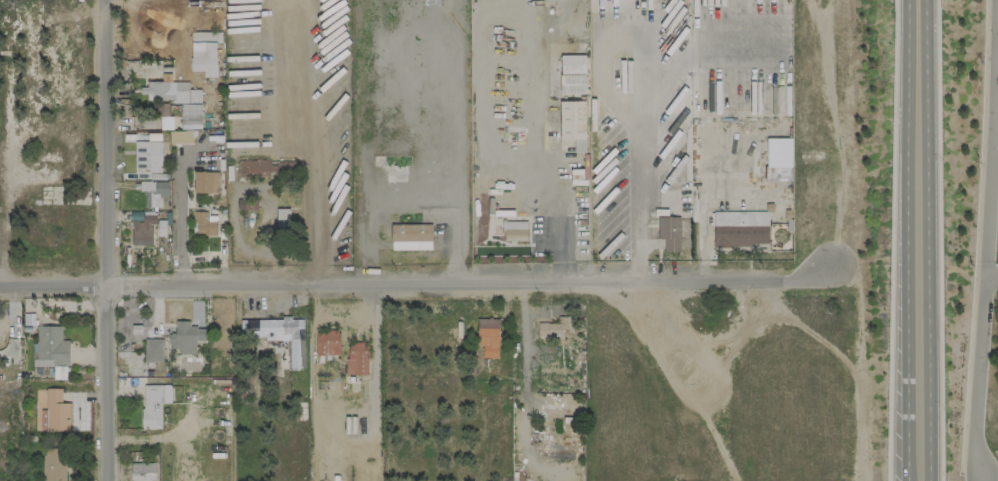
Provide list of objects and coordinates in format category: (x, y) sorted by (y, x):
road: (894, 8)
road: (936, 8)
building: (204, 58)
building: (572, 74)
building: (179, 100)
building: (180, 137)
road: (311, 141)
building: (147, 157)
building: (778, 158)
building: (390, 160)
building: (262, 168)
road: (550, 176)
building: (205, 182)
building: (153, 192)
road: (181, 215)
building: (282, 218)
building: (204, 224)
building: (740, 228)
building: (143, 231)
building: (515, 231)
building: (669, 233)
building: (411, 237)
road: (640, 238)
road: (104, 240)
road: (919, 240)
road: (234, 241)
road: (891, 248)
road: (938, 248)
road: (986, 248)
road: (414, 282)
road: (991, 288)
building: (554, 328)
building: (997, 331)
building: (278, 335)
building: (185, 337)
building: (488, 337)
building: (327, 342)
building: (51, 347)
building: (153, 350)
building: (357, 358)
building: (59, 373)
building: (154, 404)
building: (55, 412)
building: (560, 414)
building: (556, 447)
building: (54, 464)
building: (142, 471)

